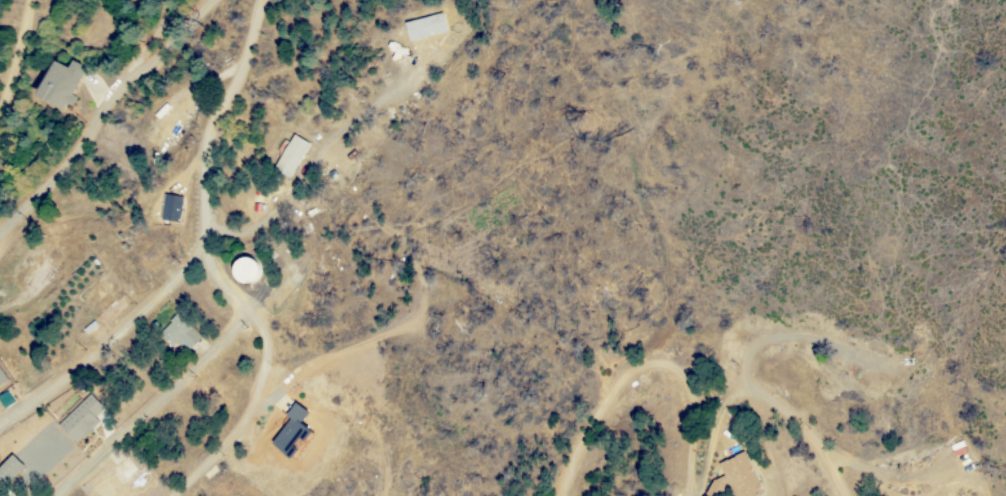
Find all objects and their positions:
road: (162, 30)
road: (18, 54)
building: (58, 84)
road: (105, 116)
building: (154, 124)
building: (289, 156)
road: (208, 210)
building: (243, 270)
road: (24, 297)
building: (177, 333)
road: (113, 340)
road: (648, 366)
road: (288, 382)
road: (760, 393)
road: (160, 404)
building: (79, 419)
building: (8, 469)
building: (734, 477)

